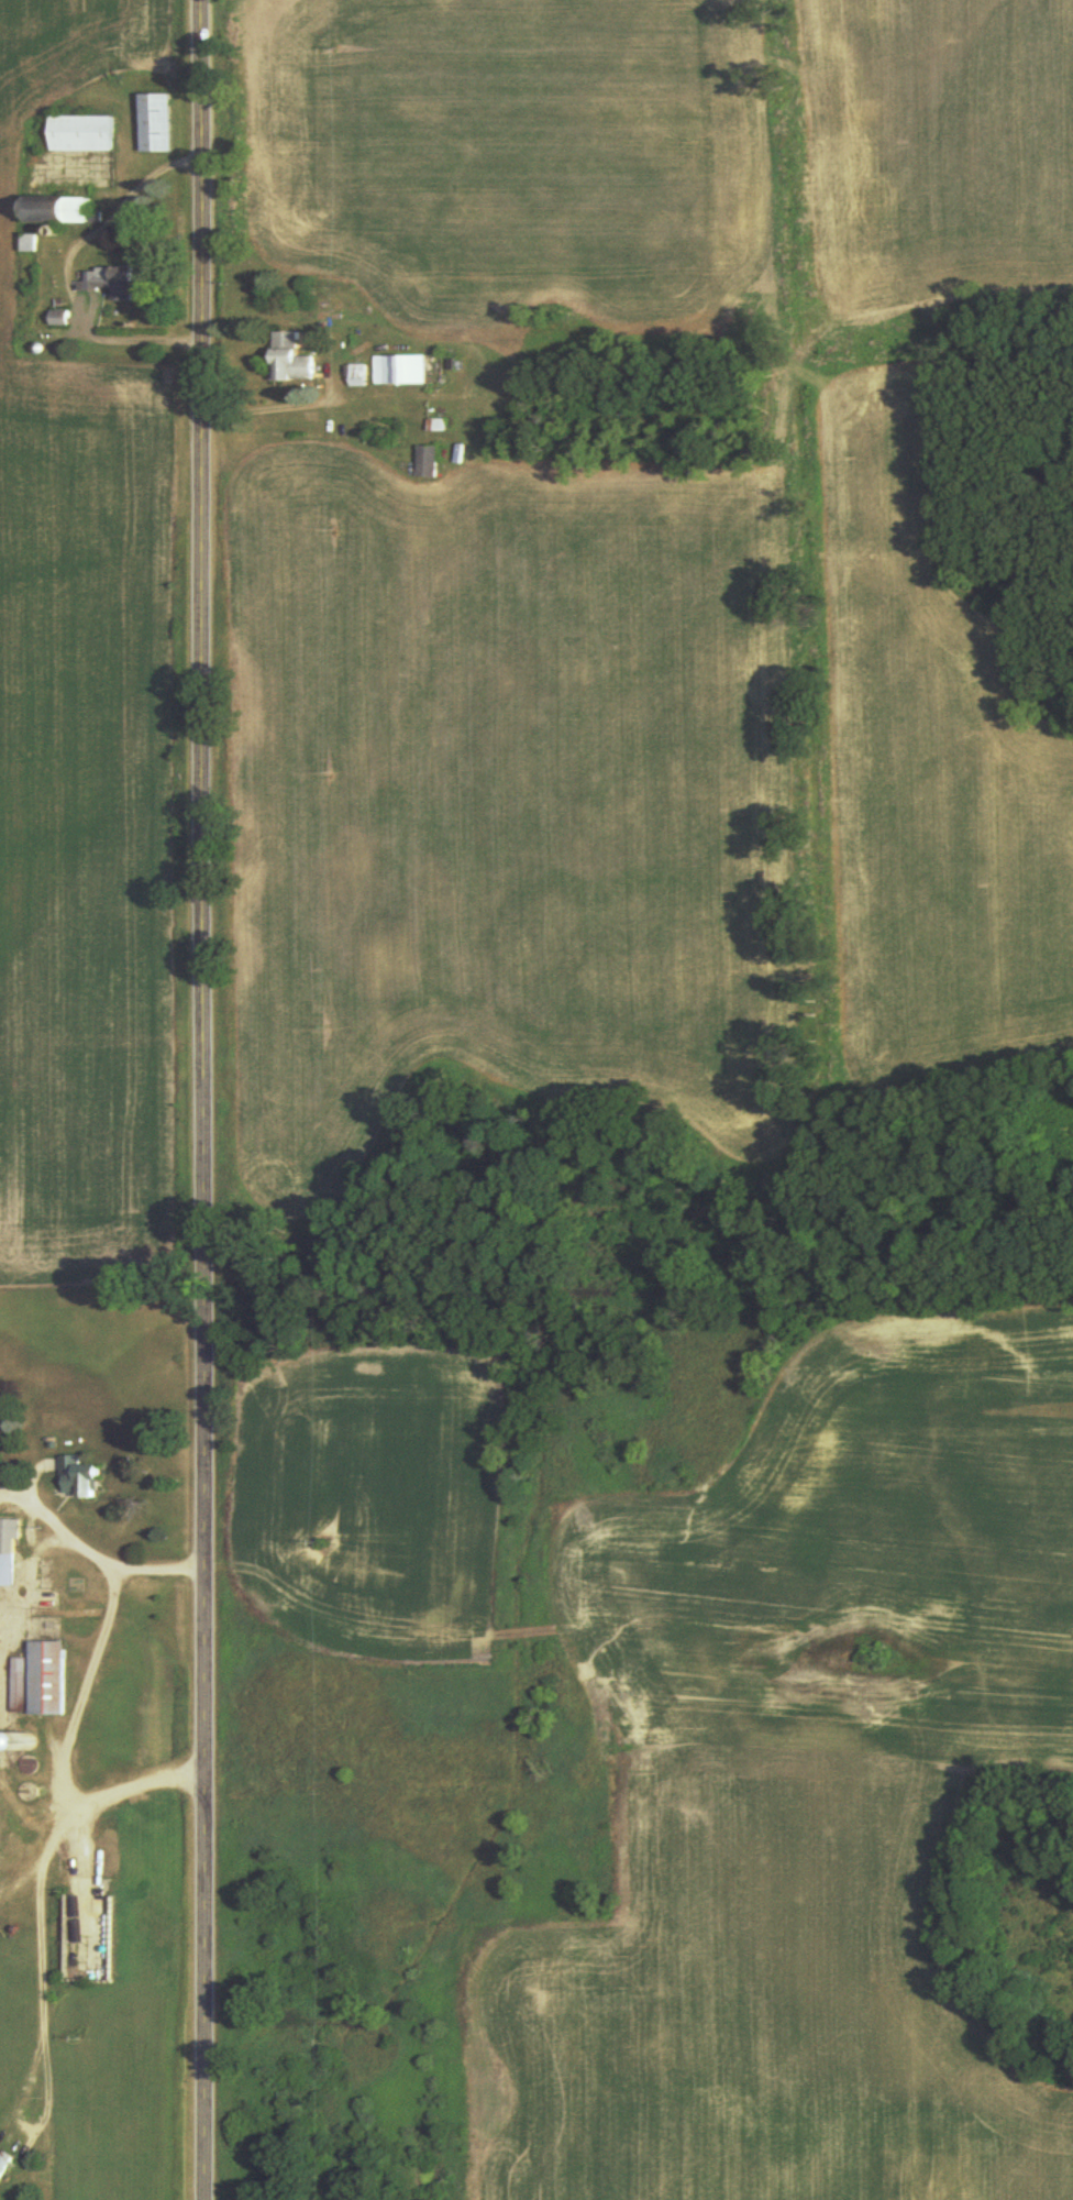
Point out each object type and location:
building: (150, 122)
building: (75, 133)
building: (47, 210)
building: (91, 218)
building: (24, 243)
building: (107, 283)
building: (286, 360)
building: (406, 370)
building: (425, 462)
road: (208, 1100)
building: (74, 1477)
building: (7, 1549)
building: (43, 1679)
building: (2, 2160)

